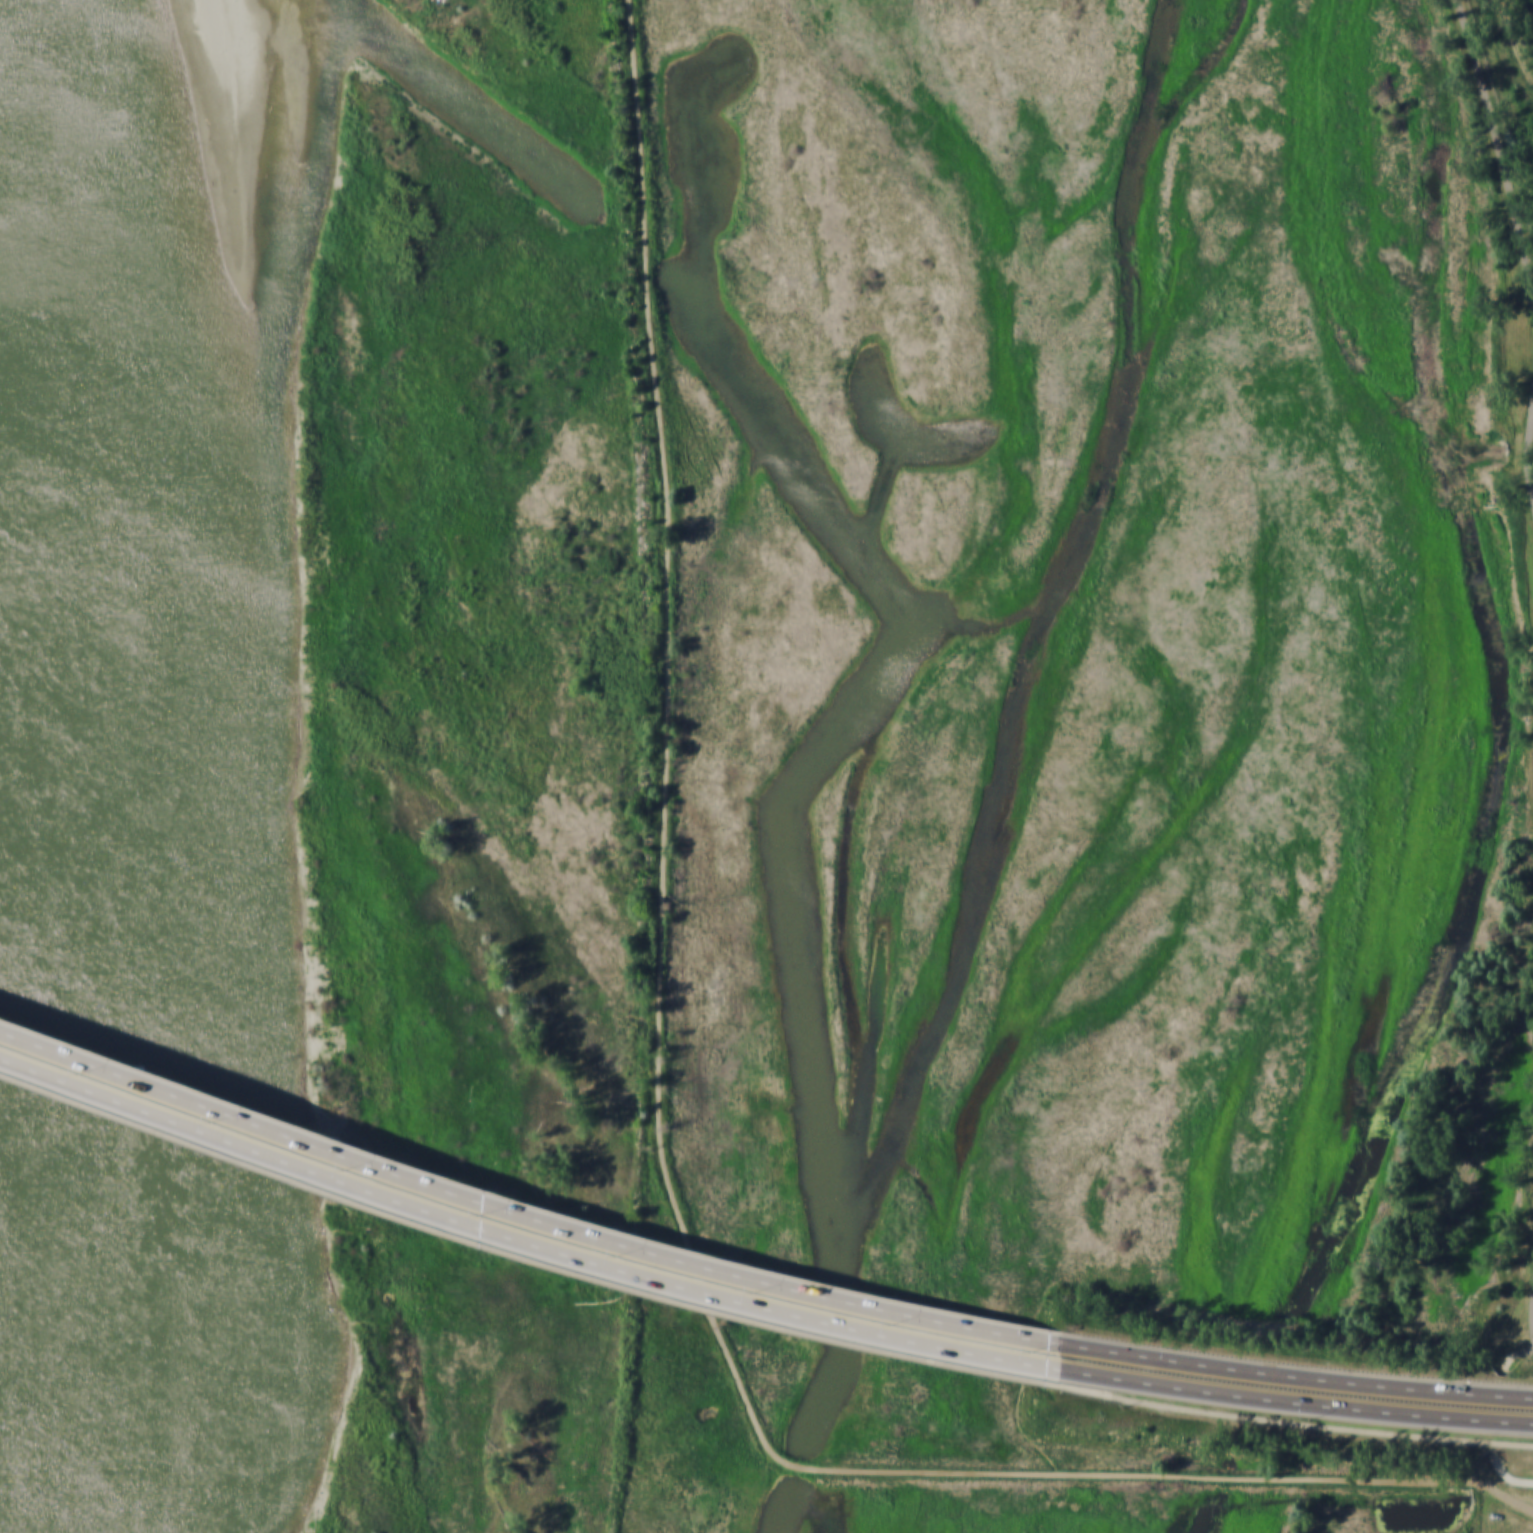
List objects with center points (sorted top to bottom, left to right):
road: (1501, 163)
park: (1510, 223)
road: (1532, 421)
road: (1530, 445)
park: (1089, 644)
street lamp: (98, 1073)
road: (661, 1104)
street lamp: (231, 1120)
street lamp: (364, 1169)
road: (522, 1209)
street lamp: (497, 1215)
road: (522, 1236)
road: (520, 1250)
street lamp: (631, 1256)
street lamp: (765, 1293)
street lamp: (901, 1325)
street lamp: (1174, 1344)
road: (1527, 1351)
street lamp: (1035, 1352)
road: (1507, 1361)
street lamp: (1461, 1377)
road: (1296, 1378)
road: (1295, 1403)
street lamp: (1310, 1420)
road: (1293, 1423)
road: (1504, 1477)
road: (1503, 1494)

